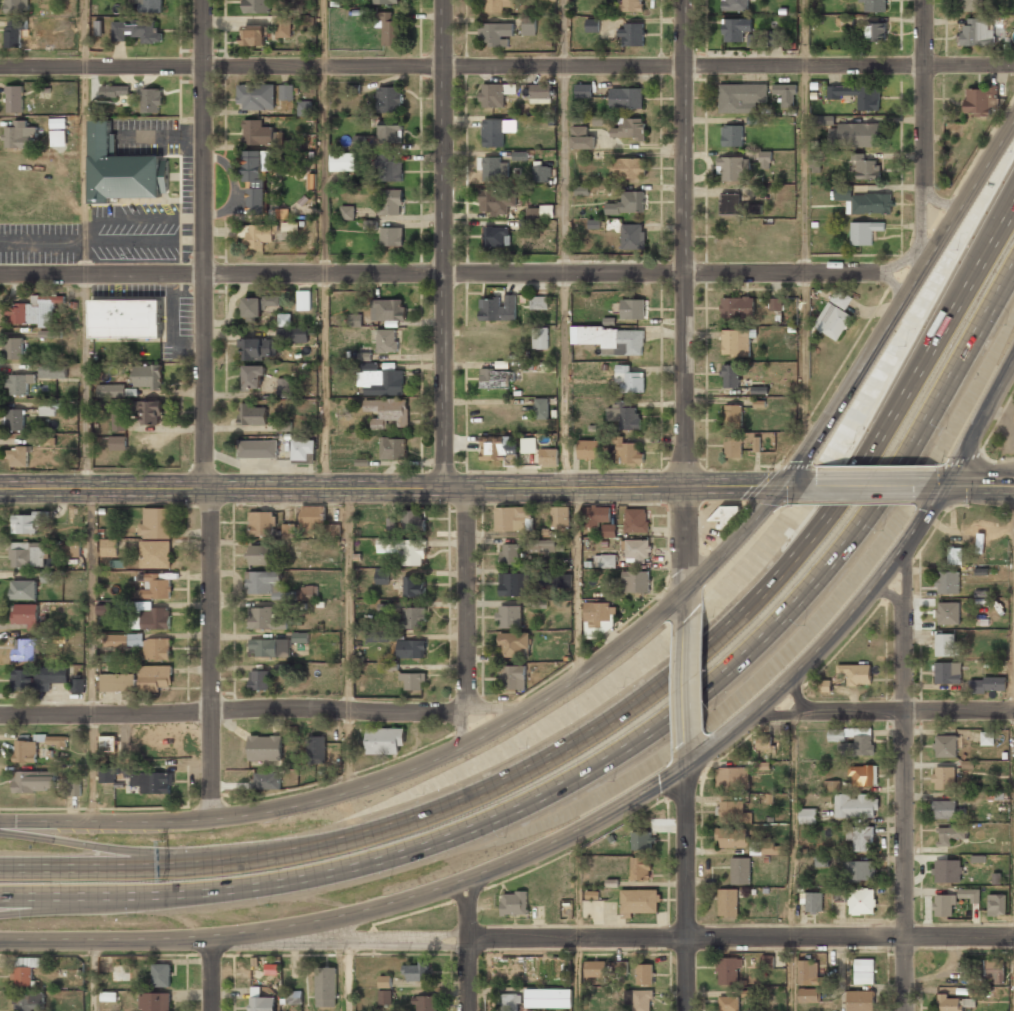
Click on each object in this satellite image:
building: (547, 0)
building: (386, 1)
building: (497, 5)
building: (632, 5)
building: (735, 5)
building: (875, 5)
building: (972, 5)
building: (17, 6)
building: (149, 6)
building: (257, 6)
building: (529, 25)
building: (592, 25)
building: (283, 27)
building: (388, 28)
building: (736, 29)
building: (137, 31)
building: (876, 31)
building: (14, 32)
building: (977, 32)
road: (84, 33)
building: (496, 34)
building: (631, 34)
building: (253, 37)
building: (775, 38)
road: (968, 64)
road: (461, 66)
building: (114, 90)
building: (583, 90)
building: (286, 91)
building: (540, 93)
building: (495, 94)
building: (786, 94)
building: (256, 96)
building: (741, 97)
building: (869, 97)
building: (15, 98)
building: (626, 98)
building: (389, 99)
building: (151, 100)
building: (980, 101)
building: (304, 108)
building: (821, 119)
building: (598, 120)
building: (57, 123)
building: (510, 126)
building: (630, 128)
building: (390, 131)
building: (492, 132)
road: (924, 134)
building: (20, 135)
building: (732, 135)
building: (855, 135)
building: (58, 138)
building: (582, 138)
building: (360, 141)
building: (765, 159)
building: (343, 162)
building: (389, 167)
building: (630, 167)
building: (492, 168)
building: (733, 168)
building: (866, 168)
building: (119, 170)
building: (541, 173)
building: (256, 182)
building: (581, 190)
building: (842, 192)
building: (391, 201)
building: (497, 201)
building: (627, 203)
building: (869, 203)
building: (737, 205)
building: (347, 212)
building: (540, 212)
building: (280, 214)
road: (999, 217)
road: (804, 230)
building: (864, 232)
building: (392, 236)
building: (496, 236)
building: (632, 236)
road: (685, 243)
road: (705, 243)
road: (324, 244)
road: (442, 244)
road: (563, 244)
road: (462, 273)
building: (841, 298)
building: (304, 300)
building: (539, 302)
building: (258, 304)
building: (776, 304)
building: (737, 306)
building: (498, 308)
building: (632, 308)
building: (34, 311)
building: (126, 319)
building: (284, 319)
building: (355, 320)
building: (609, 321)
building: (832, 321)
building: (49, 334)
building: (293, 334)
building: (540, 337)
building: (612, 339)
building: (387, 340)
building: (737, 342)
building: (15, 348)
building: (259, 348)
building: (53, 371)
building: (148, 376)
building: (252, 376)
building: (494, 376)
building: (731, 376)
building: (629, 379)
building: (380, 380)
road: (89, 381)
building: (20, 383)
building: (284, 387)
building: (111, 390)
building: (541, 408)
building: (47, 409)
road: (204, 409)
building: (148, 411)
building: (386, 412)
building: (624, 413)
building: (733, 413)
building: (252, 414)
building: (16, 419)
building: (119, 420)
building: (118, 443)
building: (529, 445)
building: (733, 446)
building: (497, 447)
building: (257, 448)
building: (392, 448)
building: (588, 449)
building: (627, 452)
building: (548, 457)
road: (945, 485)
road: (979, 485)
road: (936, 486)
traffic signals: (945, 486)
road: (866, 487)
road: (403, 489)
traffic signals: (781, 489)
building: (601, 514)
building: (725, 514)
building: (313, 516)
building: (560, 517)
building: (512, 519)
building: (414, 521)
building: (636, 521)
building: (156, 523)
building: (25, 524)
building: (261, 524)
building: (335, 529)
building: (290, 530)
building: (608, 532)
building: (542, 546)
building: (72, 549)
building: (109, 549)
building: (637, 551)
building: (415, 552)
building: (510, 554)
road: (686, 554)
building: (26, 555)
building: (155, 555)
building: (260, 556)
building: (955, 557)
building: (605, 561)
building: (382, 575)
building: (563, 580)
building: (635, 581)
building: (261, 582)
road: (578, 583)
building: (948, 583)
building: (513, 584)
building: (413, 586)
building: (155, 587)
building: (24, 590)
building: (308, 592)
road: (467, 599)
road: (1013, 605)
building: (947, 613)
building: (25, 615)
building: (599, 615)
building: (509, 616)
building: (414, 618)
building: (154, 619)
building: (265, 619)
building: (378, 636)
road: (348, 640)
building: (142, 645)
building: (514, 645)
building: (944, 645)
road: (620, 647)
building: (270, 648)
building: (24, 650)
building: (411, 650)
road: (91, 655)
building: (856, 674)
building: (947, 674)
building: (514, 678)
building: (37, 679)
building: (139, 680)
building: (260, 681)
building: (412, 681)
road: (687, 682)
building: (988, 684)
building: (824, 685)
building: (76, 686)
road: (233, 710)
road: (831, 711)
road: (960, 711)
road: (496, 712)
road: (618, 714)
road: (467, 728)
building: (987, 738)
building: (999, 739)
building: (57, 740)
building: (384, 740)
building: (764, 743)
building: (107, 744)
building: (859, 744)
building: (265, 747)
building: (945, 747)
building: (316, 749)
building: (25, 752)
road: (613, 754)
road: (687, 754)
building: (863, 775)
building: (107, 776)
road: (905, 776)
building: (732, 777)
building: (943, 778)
building: (266, 780)
building: (33, 782)
building: (157, 783)
building: (831, 785)
building: (72, 787)
building: (856, 806)
building: (730, 809)
building: (943, 809)
building: (807, 815)
road: (602, 817)
building: (950, 834)
building: (731, 838)
building: (861, 839)
building: (642, 841)
building: (766, 848)
road: (125, 851)
road: (792, 860)
building: (822, 861)
building: (640, 869)
building: (948, 870)
building: (860, 871)
building: (740, 872)
road: (686, 888)
building: (838, 894)
building: (969, 895)
building: (639, 902)
building: (861, 902)
building: (514, 903)
building: (728, 903)
building: (813, 903)
building: (996, 904)
building: (945, 905)
road: (99, 908)
road: (577, 921)
road: (959, 937)
road: (594, 938)
road: (468, 945)
building: (767, 963)
building: (595, 969)
building: (624, 971)
building: (728, 971)
building: (863, 972)
road: (212, 973)
building: (415, 973)
building: (808, 973)
building: (994, 973)
road: (92, 974)
building: (644, 974)
building: (162, 975)
road: (349, 975)
building: (22, 977)
building: (326, 986)
building: (385, 991)
building: (808, 996)
building: (295, 997)
building: (548, 999)
building: (639, 999)
building: (860, 1001)
building: (27, 1002)
building: (154, 1002)
building: (427, 1003)
building: (512, 1003)
building: (261, 1004)
building: (728, 1004)
building: (950, 1004)

